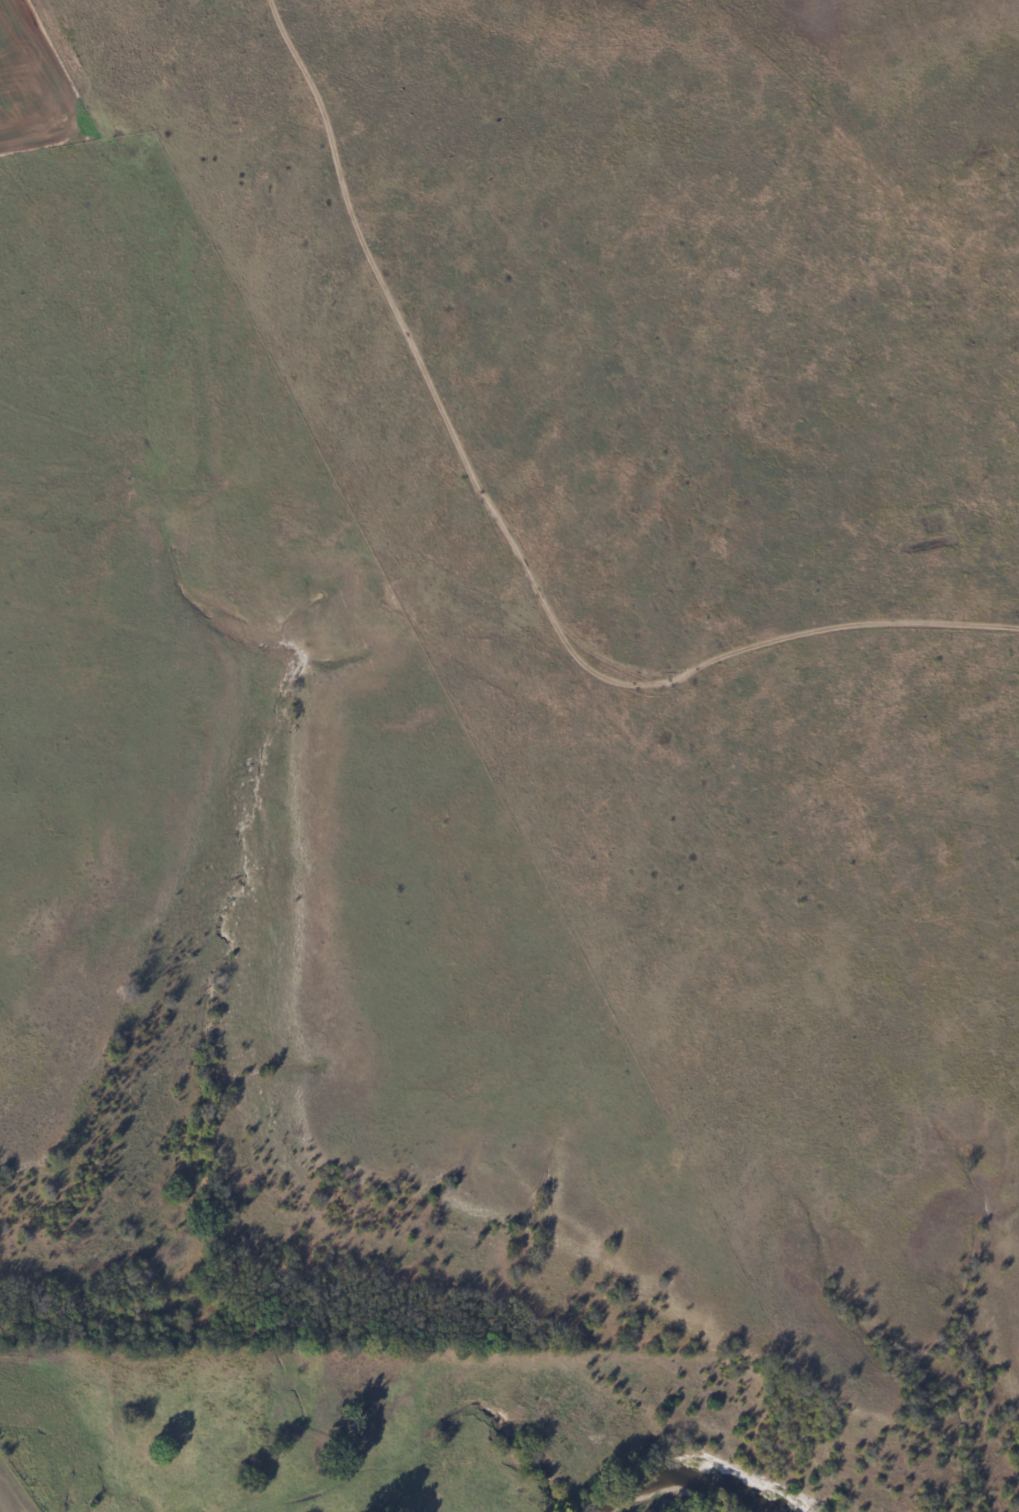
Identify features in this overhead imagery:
river: (696, 1471)

